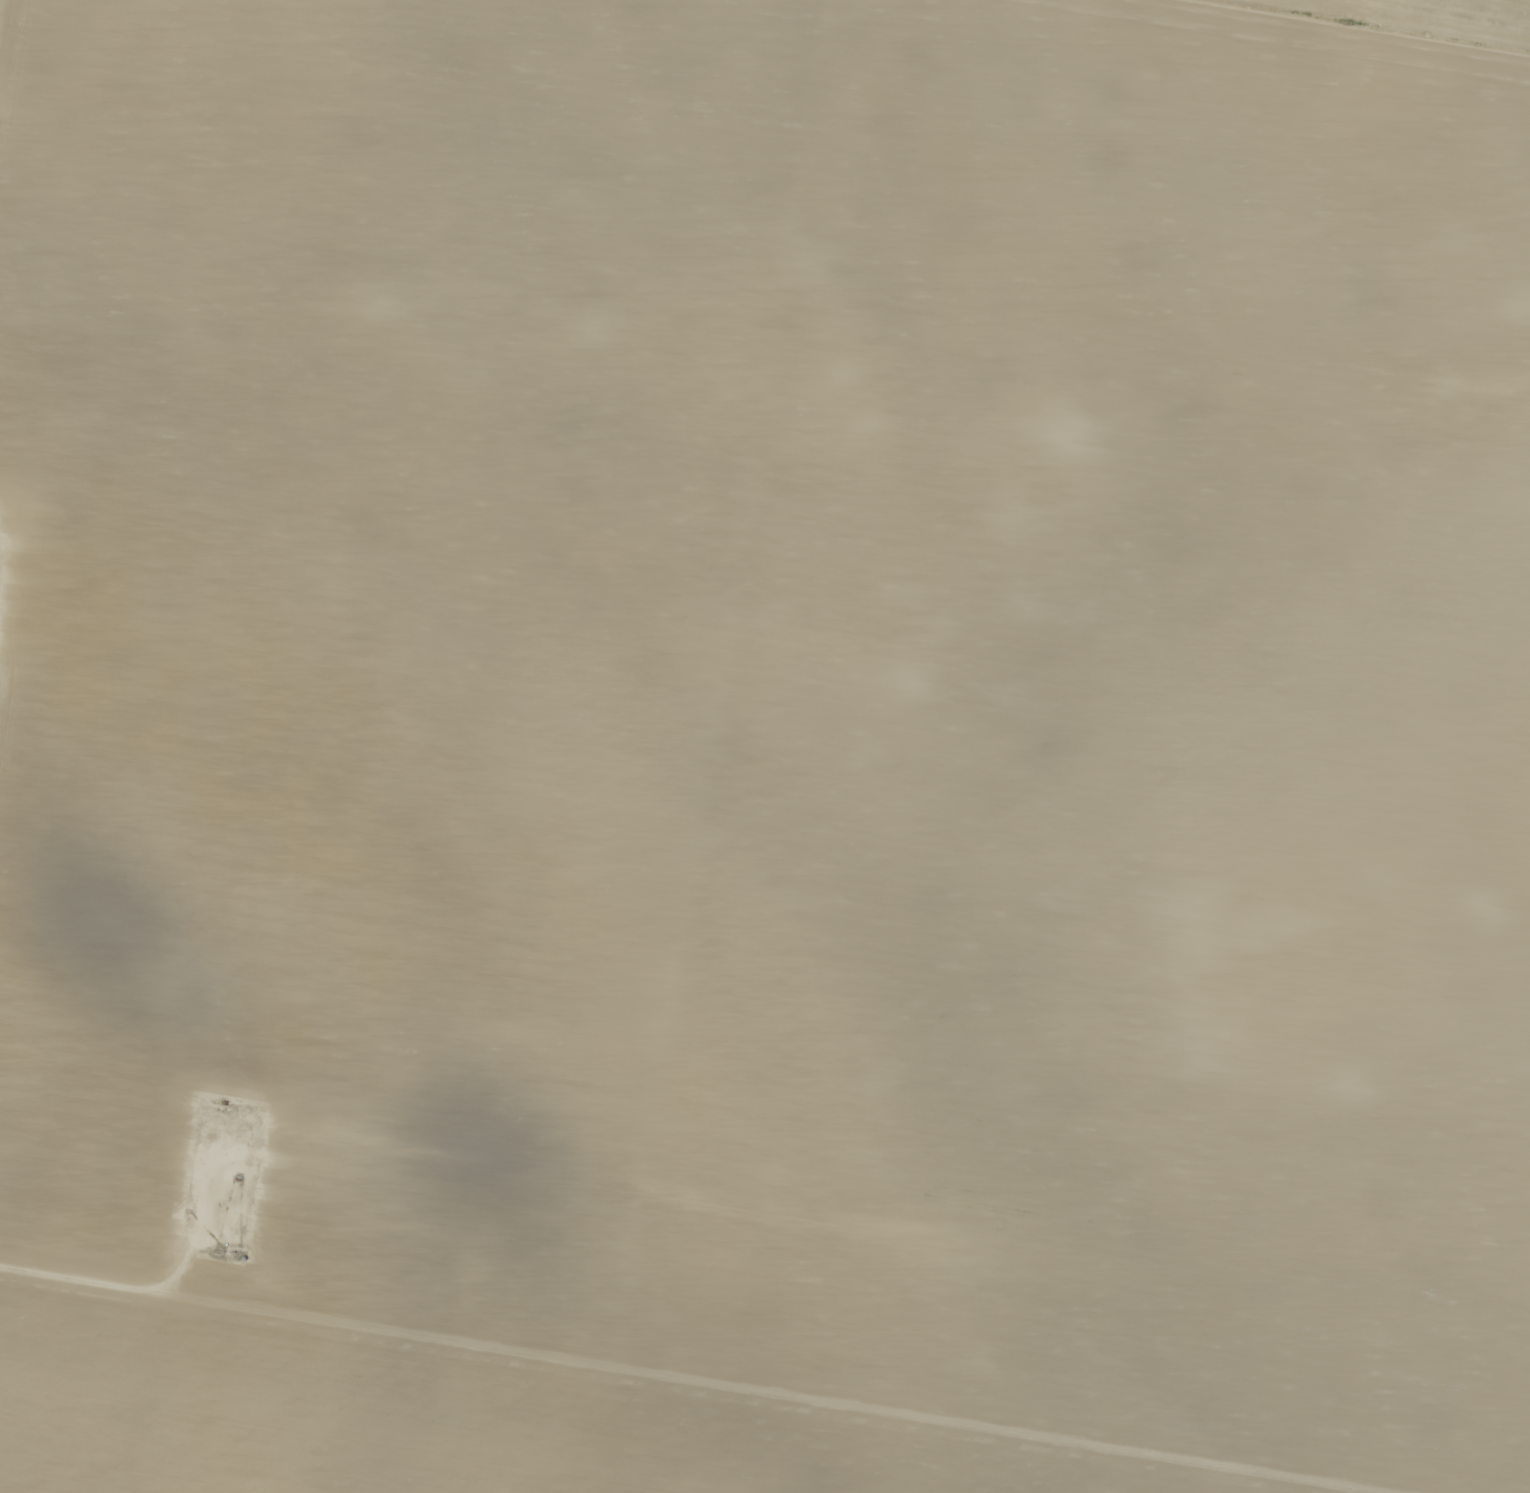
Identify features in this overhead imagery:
road: (1401, 21)
road: (155, 1287)

